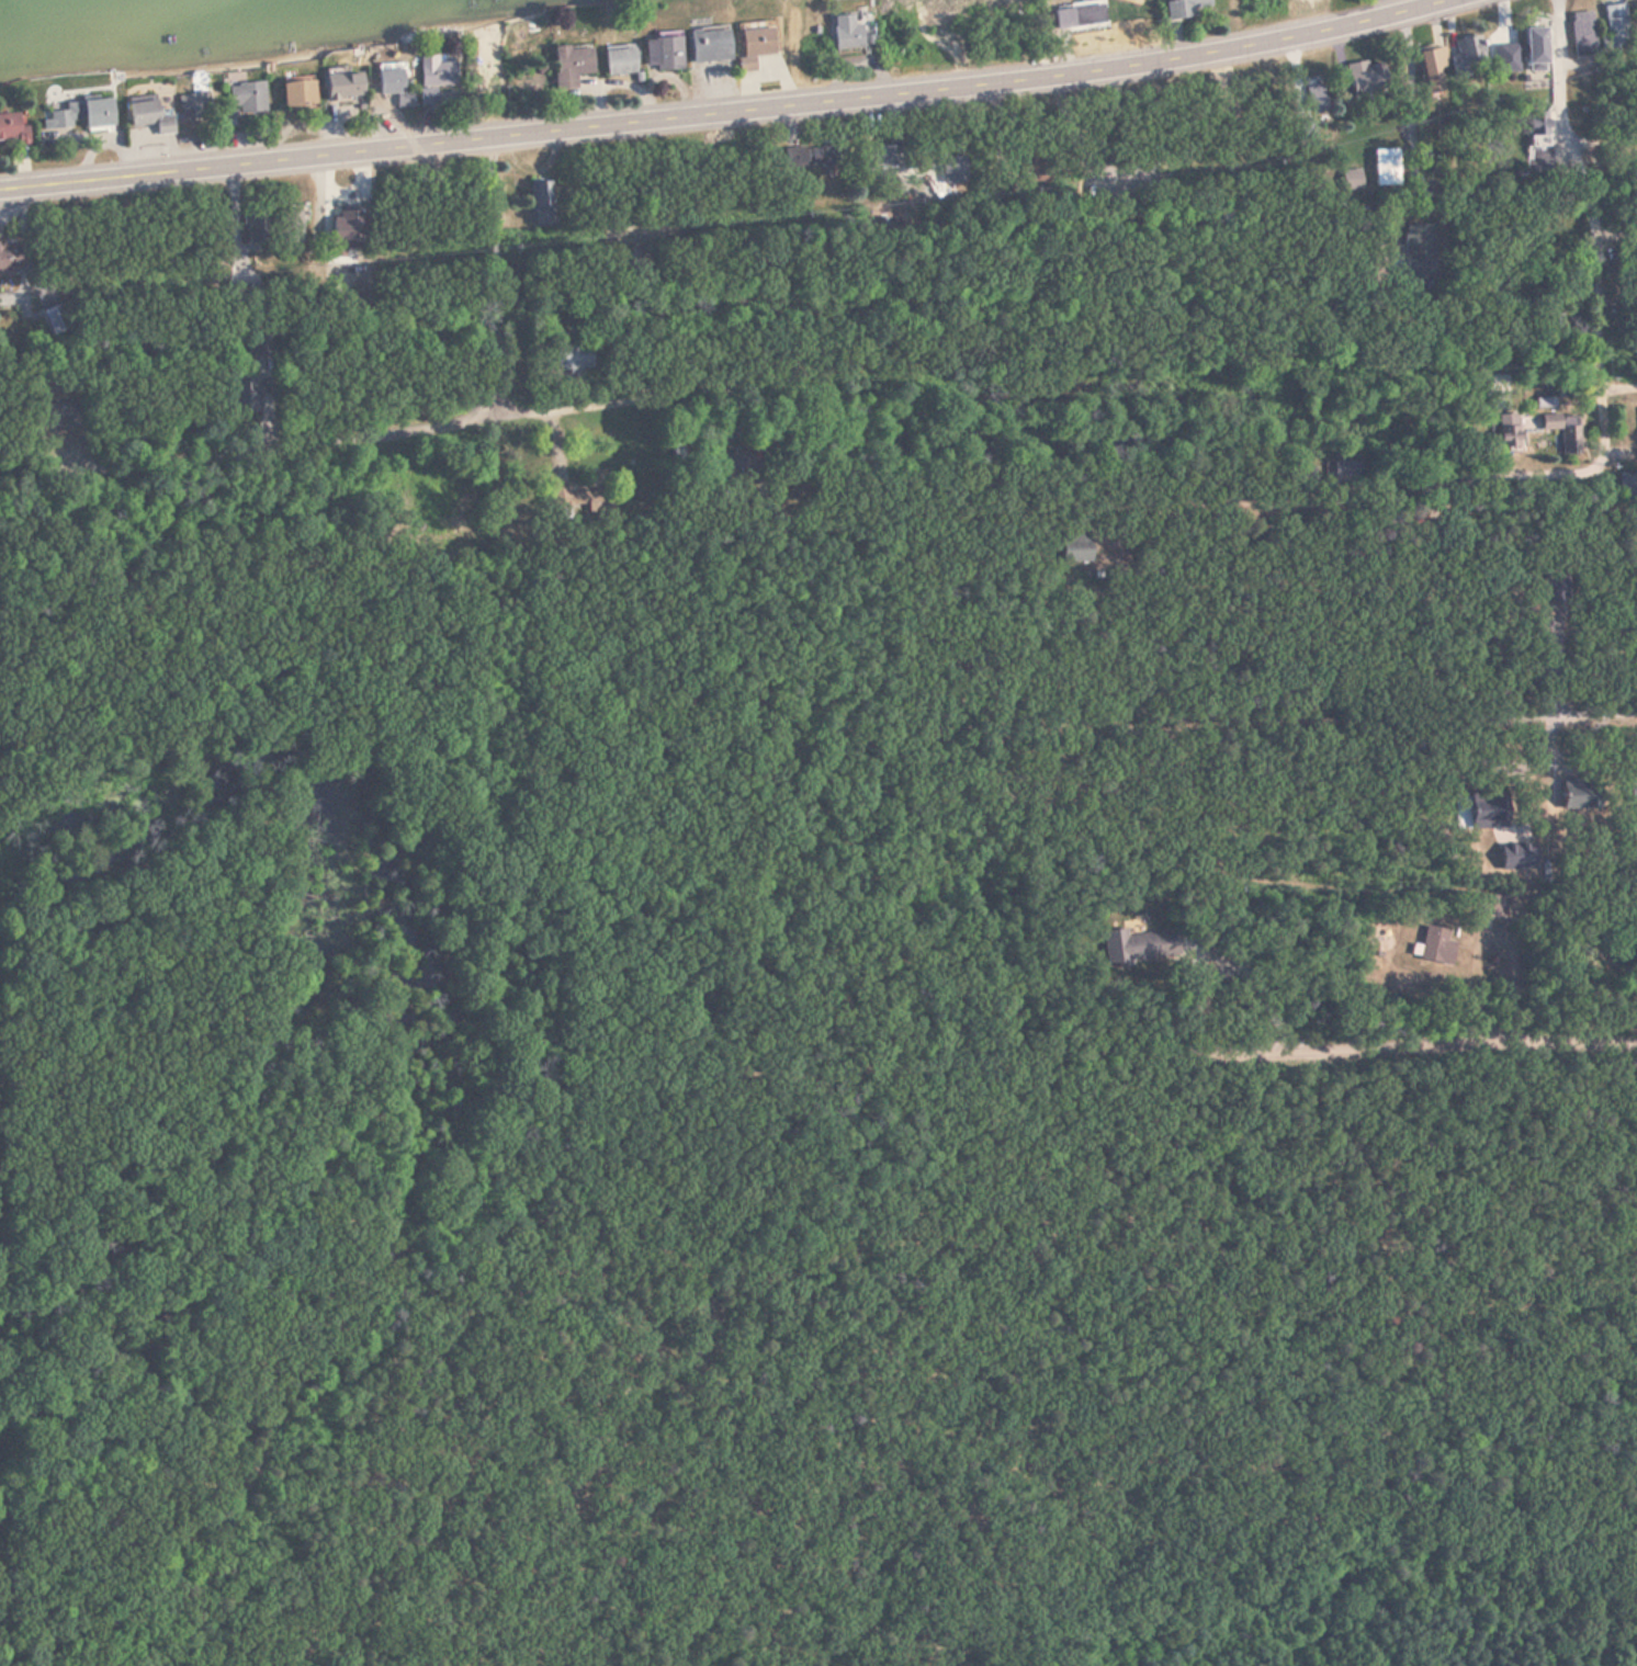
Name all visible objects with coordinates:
building: (1186, 8)
building: (1088, 15)
building: (1617, 27)
building: (847, 32)
building: (1584, 34)
building: (754, 43)
building: (709, 46)
building: (1537, 48)
building: (1471, 53)
building: (663, 54)
building: (620, 61)
building: (571, 66)
building: (1434, 67)
building: (437, 72)
building: (1367, 79)
building: (393, 84)
building: (343, 87)
building: (298, 94)
building: (427, 98)
building: (247, 99)
building: (1313, 100)
building: (190, 107)
road: (723, 110)
building: (83, 116)
building: (150, 117)
building: (12, 127)
building: (1539, 131)
road: (1469, 140)
building: (811, 157)
building: (879, 158)
building: (1386, 168)
building: (540, 204)
road: (1616, 217)
road: (1598, 225)
building: (291, 226)
building: (259, 229)
building: (348, 230)
building: (1418, 251)
building: (9, 257)
road: (1619, 309)
road: (512, 311)
building: (56, 319)
building: (573, 359)
road: (594, 377)
building: (242, 397)
road: (359, 404)
building: (1545, 404)
building: (58, 415)
building: (1565, 431)
building: (1510, 437)
road: (1503, 454)
building: (740, 460)
building: (1627, 483)
building: (566, 501)
building: (1071, 542)
road: (1160, 730)
road: (883, 779)
road: (692, 792)
building: (1582, 793)
building: (1490, 906)
building: (1433, 945)
building: (1134, 947)
road: (1343, 1061)
road: (455, 1175)

